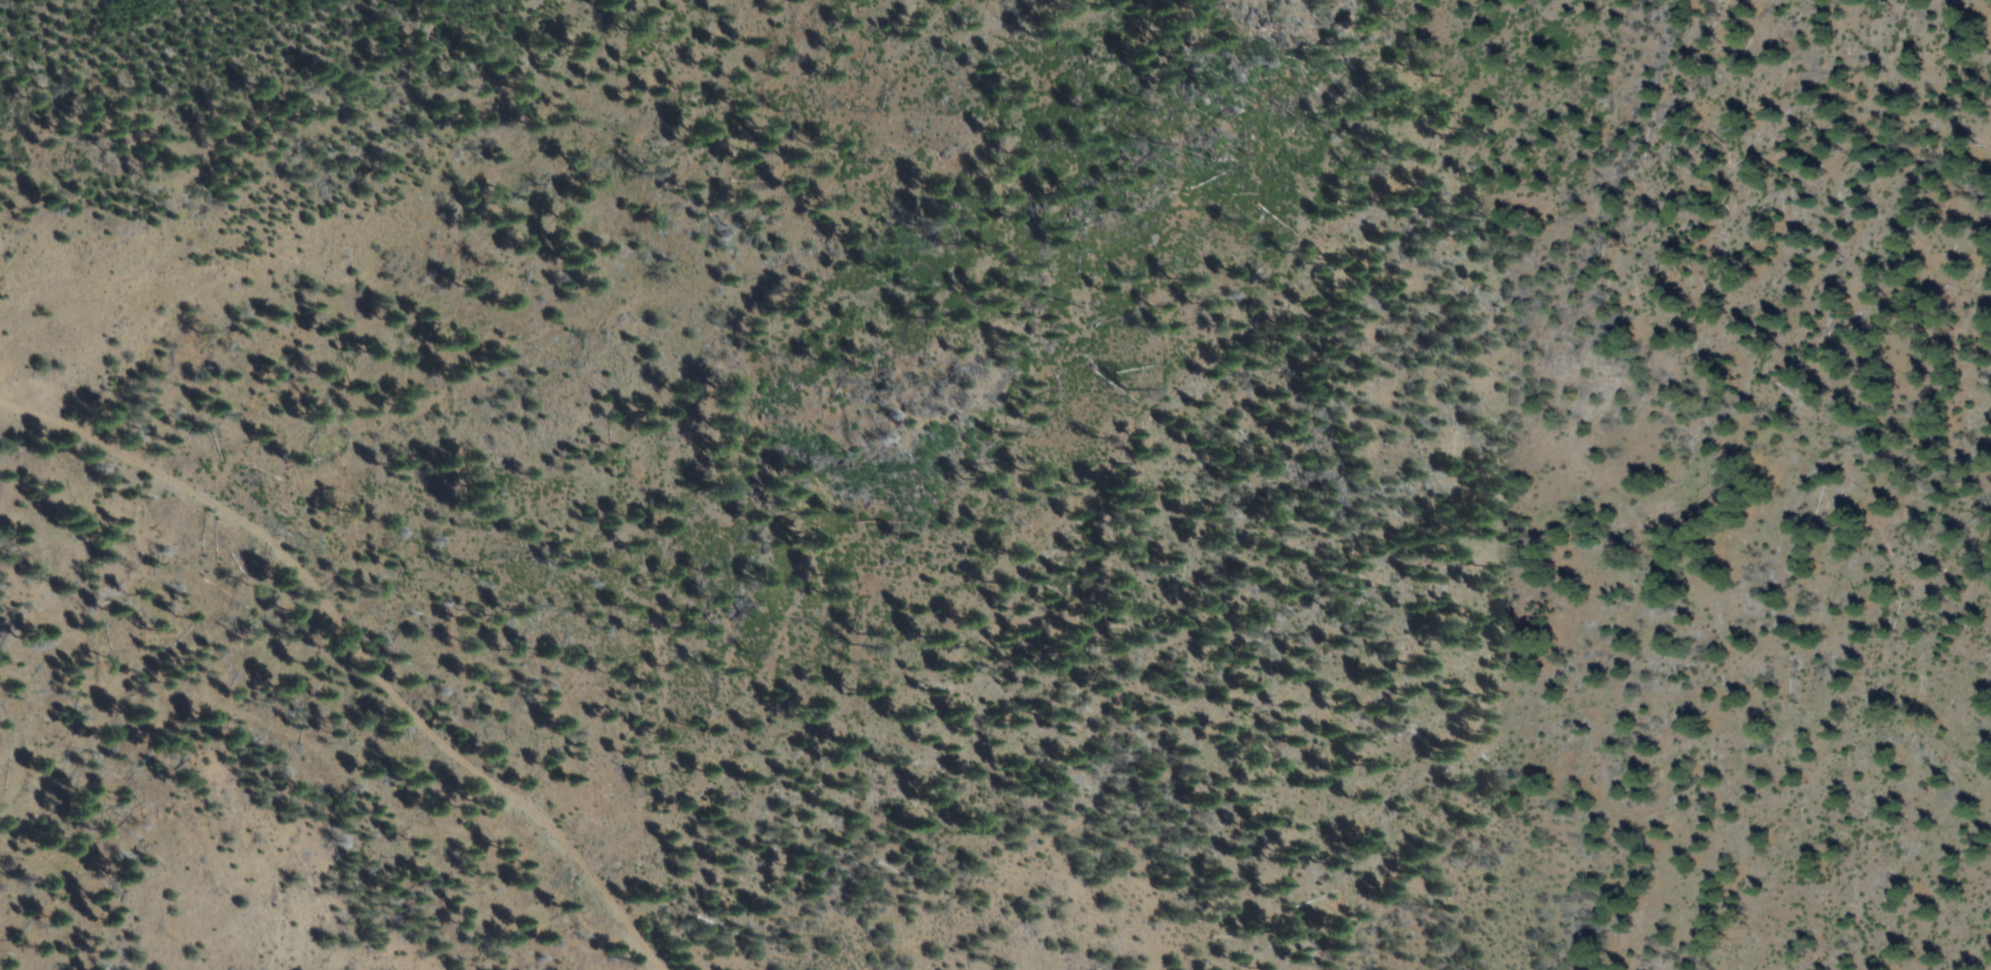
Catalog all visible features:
road: (362, 645)

